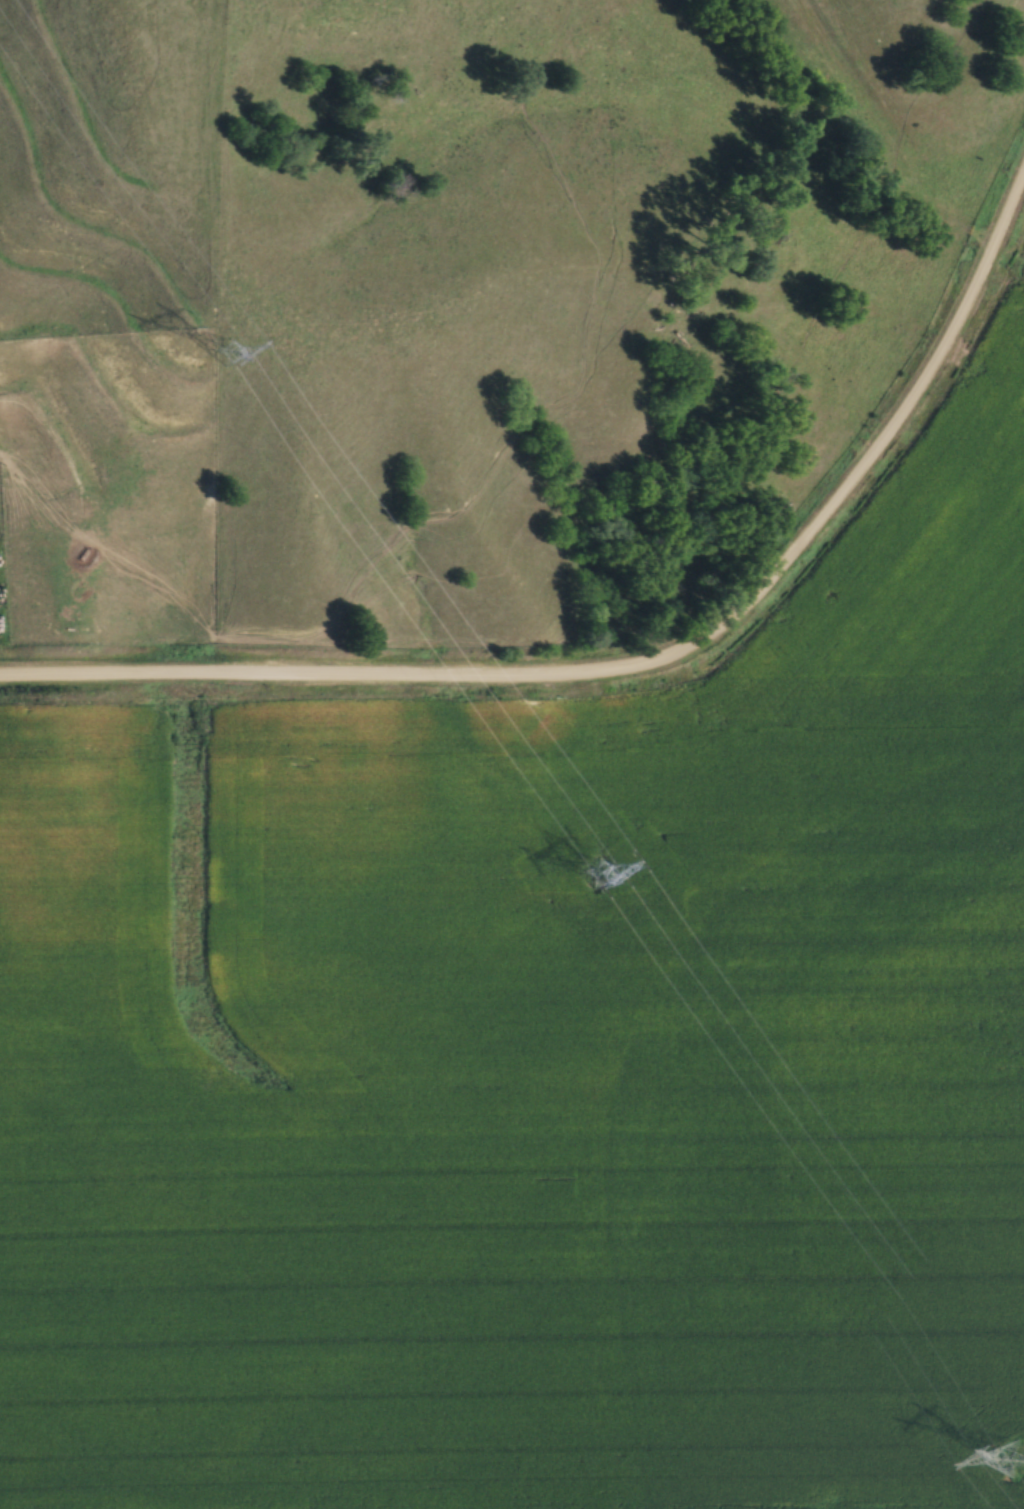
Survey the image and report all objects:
power tower: (232, 342)
road: (644, 670)
power tower: (604, 868)
power tower: (1012, 1452)

